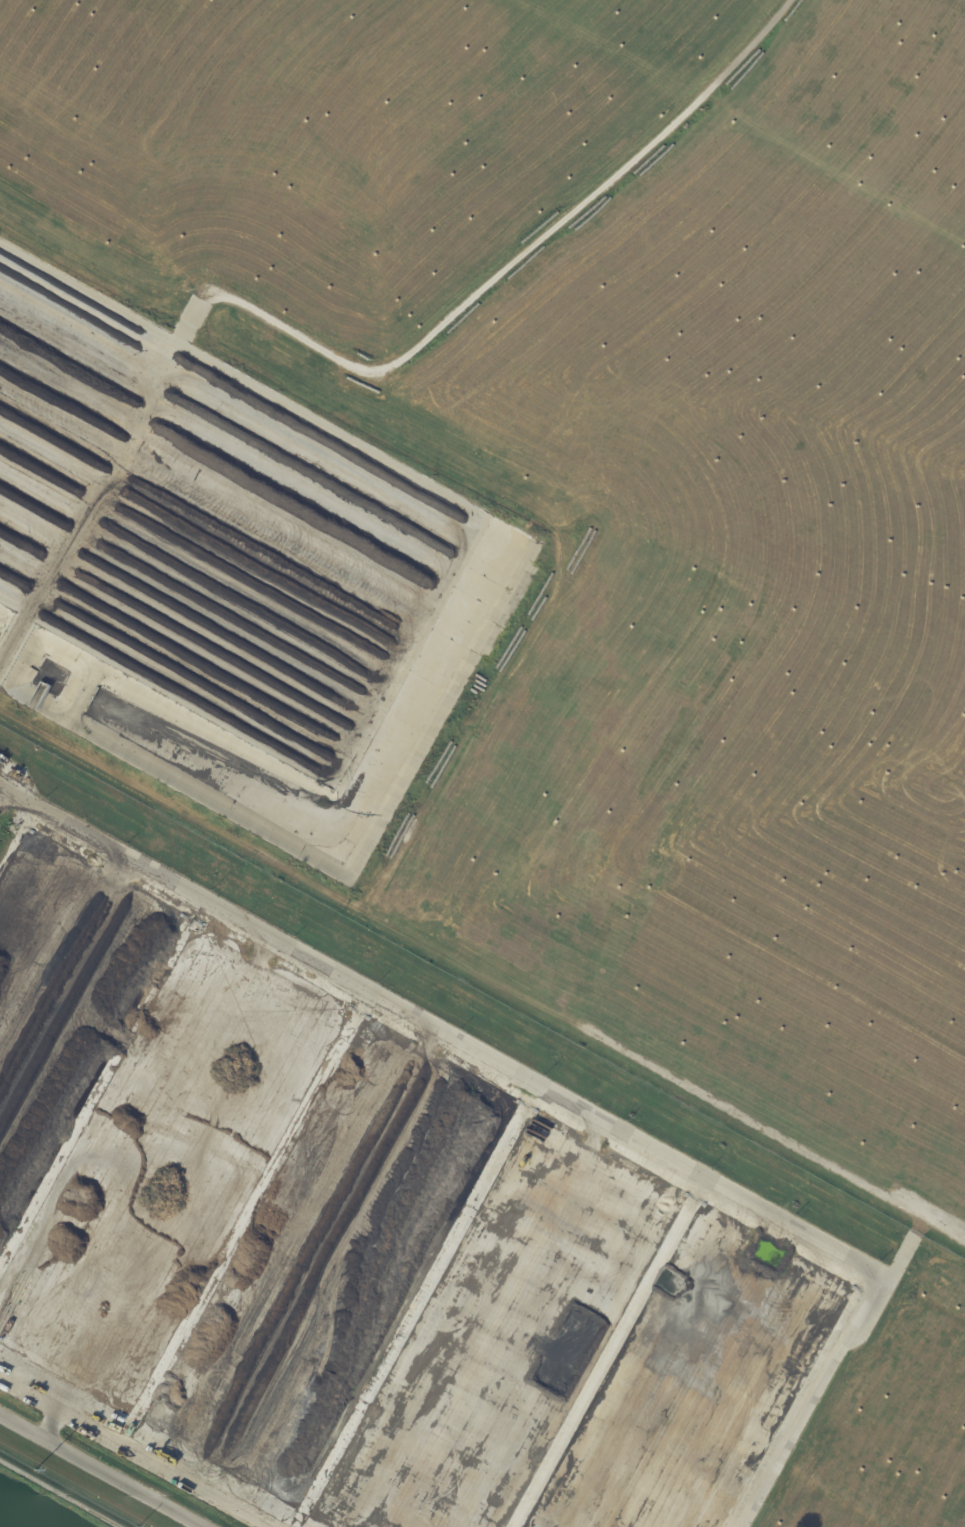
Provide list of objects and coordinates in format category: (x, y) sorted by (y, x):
crop: (629, 528)
wastewater plant: (321, 1021)
road: (568, 1095)
road: (101, 1470)
road: (57, 1495)

